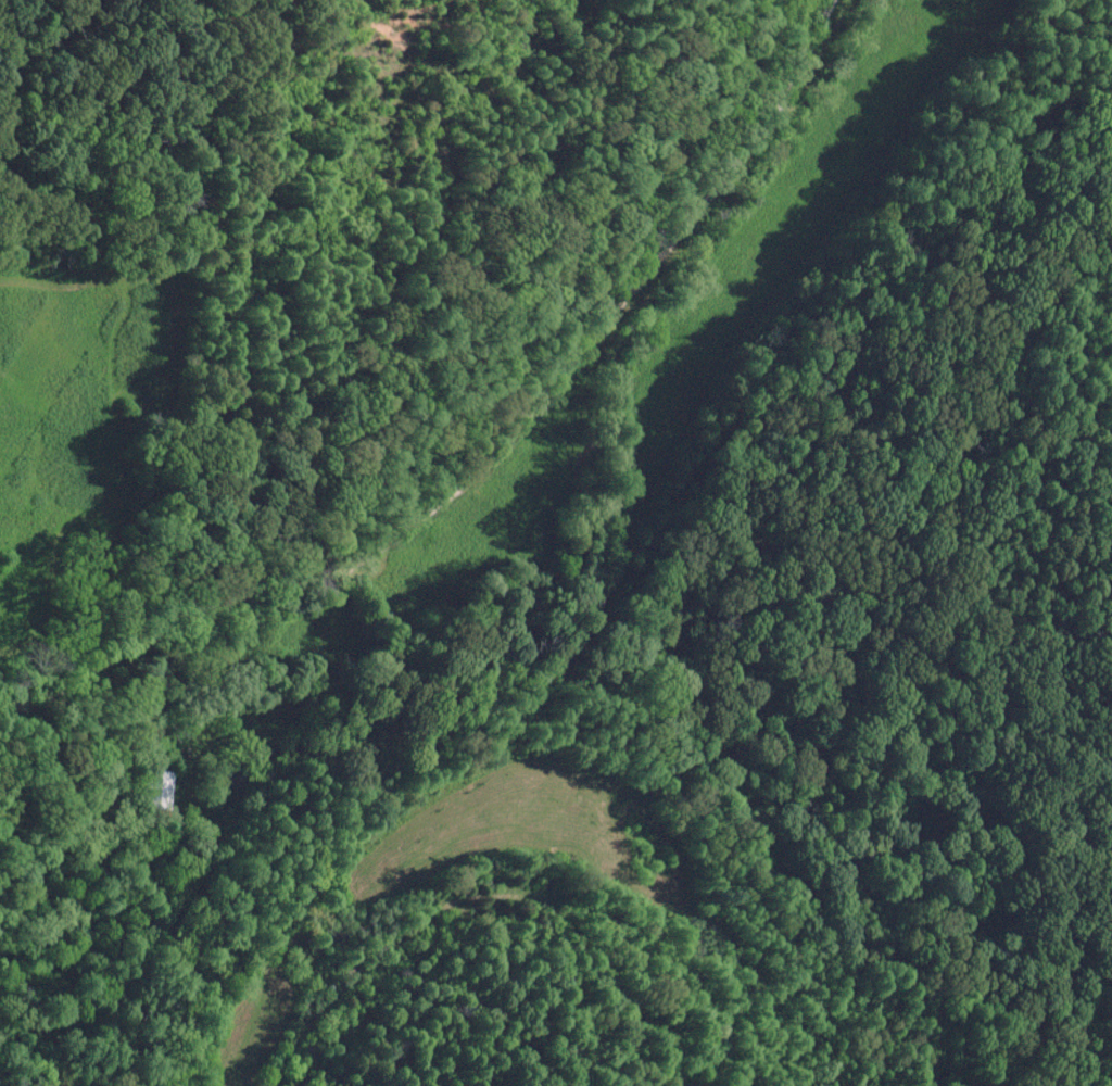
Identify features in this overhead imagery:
road: (656, 256)
road: (320, 573)
road: (134, 635)
building: (155, 790)

